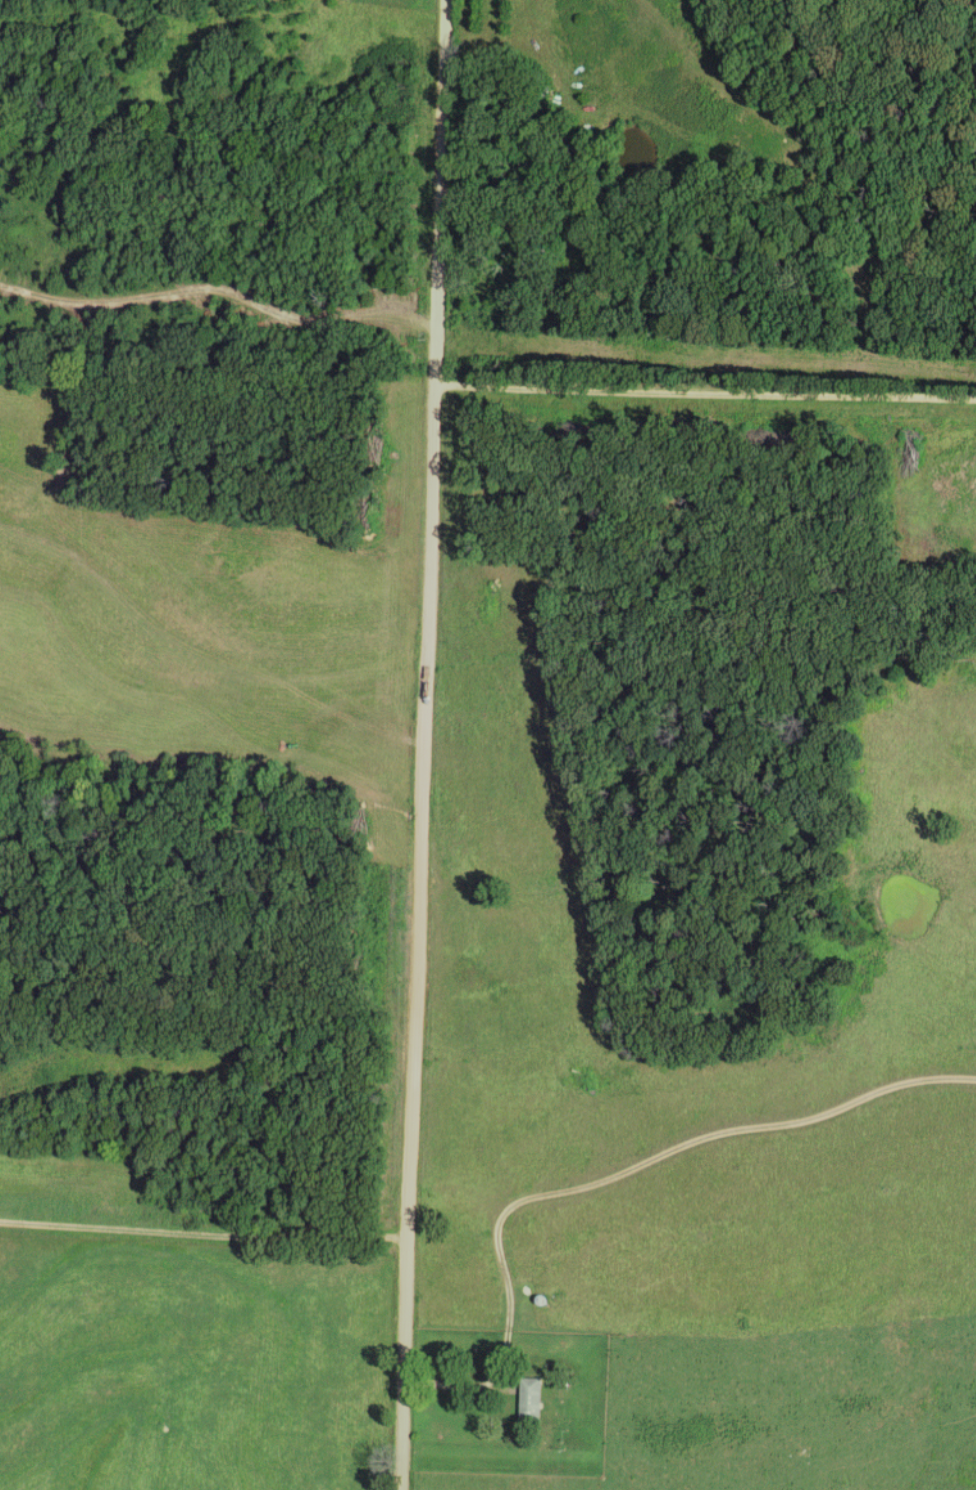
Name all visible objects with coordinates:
road: (704, 392)
road: (422, 744)
road: (502, 1353)
building: (531, 1400)

